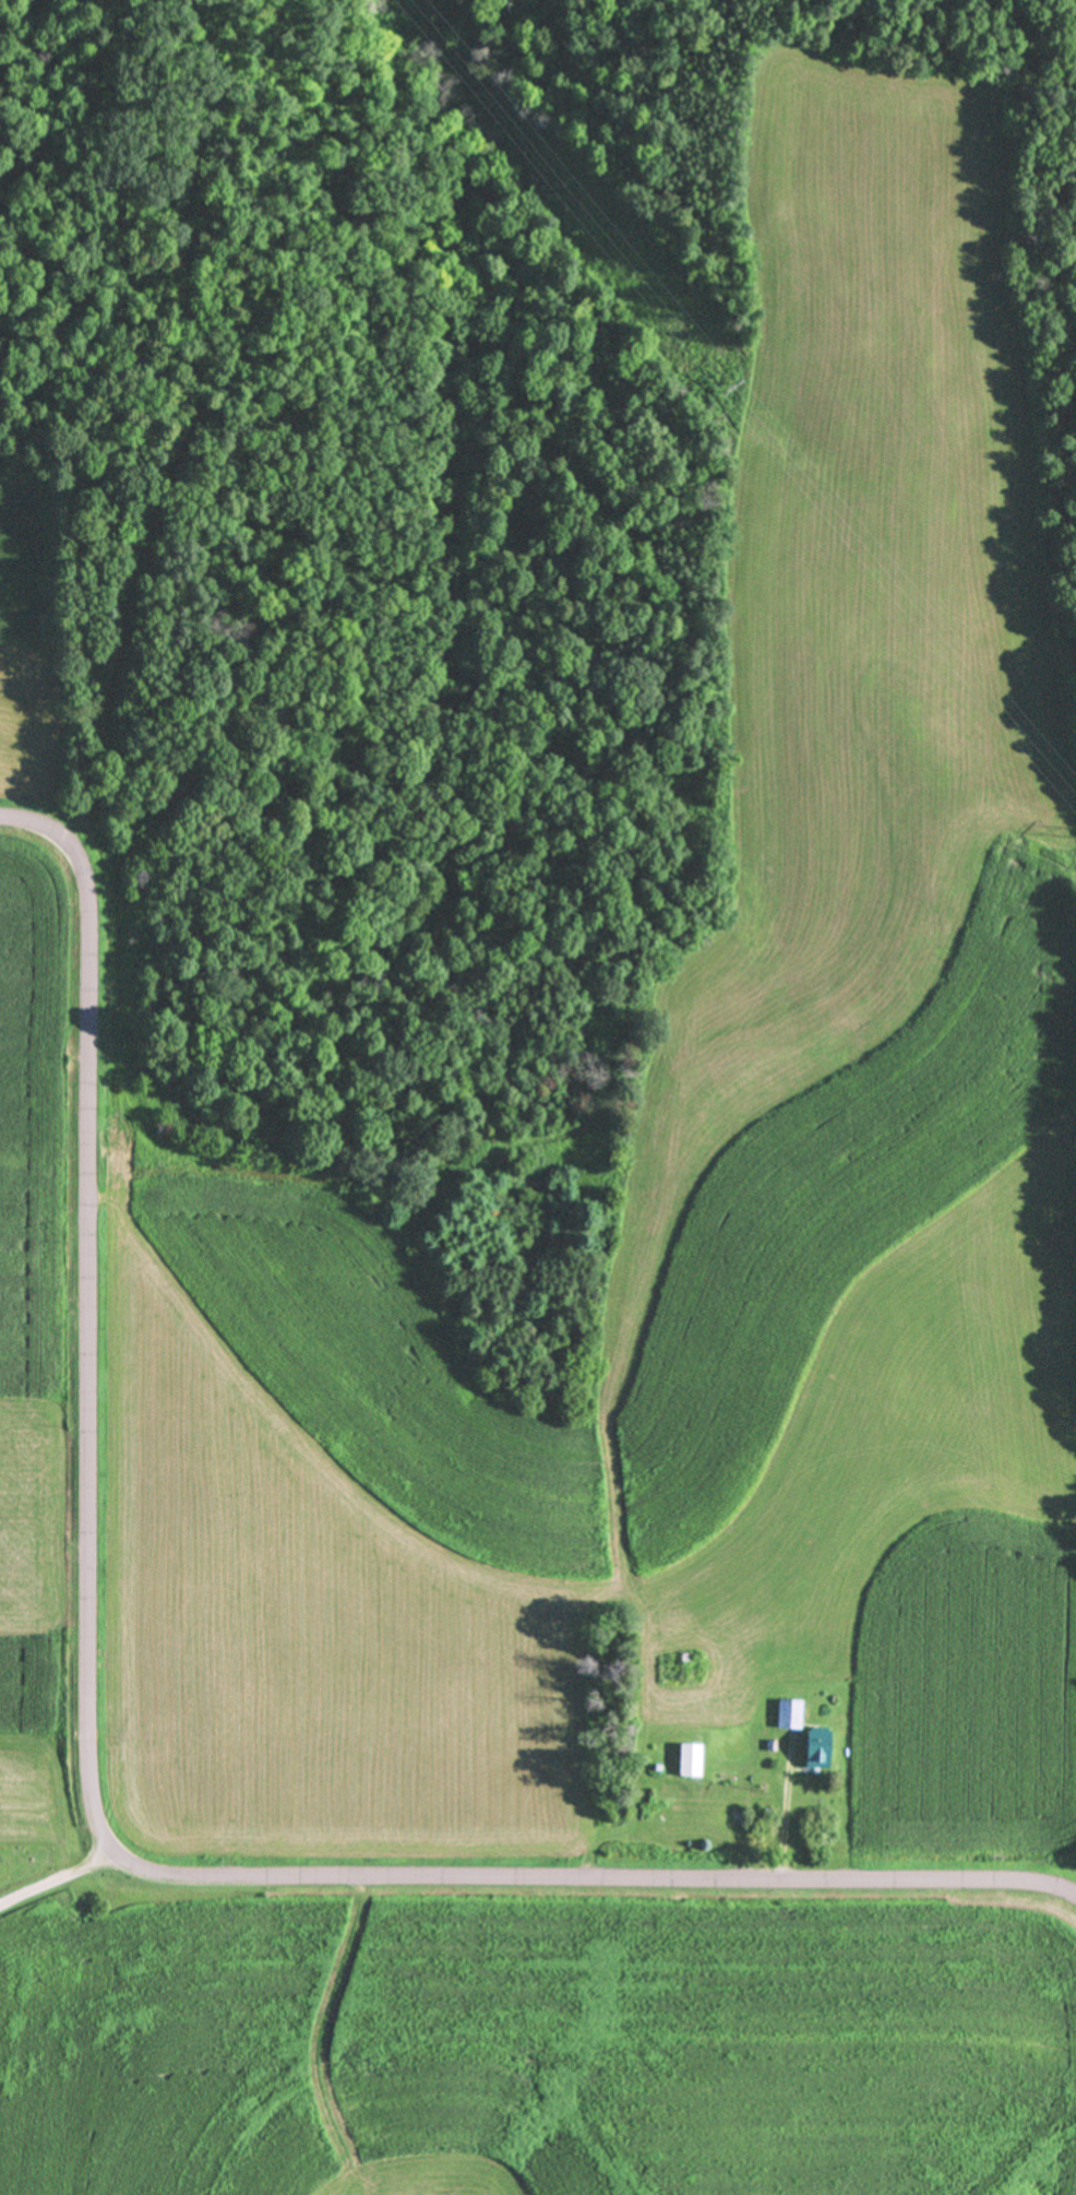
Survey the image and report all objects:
power tower: (726, 388)
building: (786, 1715)
building: (813, 1748)
building: (686, 1760)
road: (91, 1795)
road: (55, 1874)

